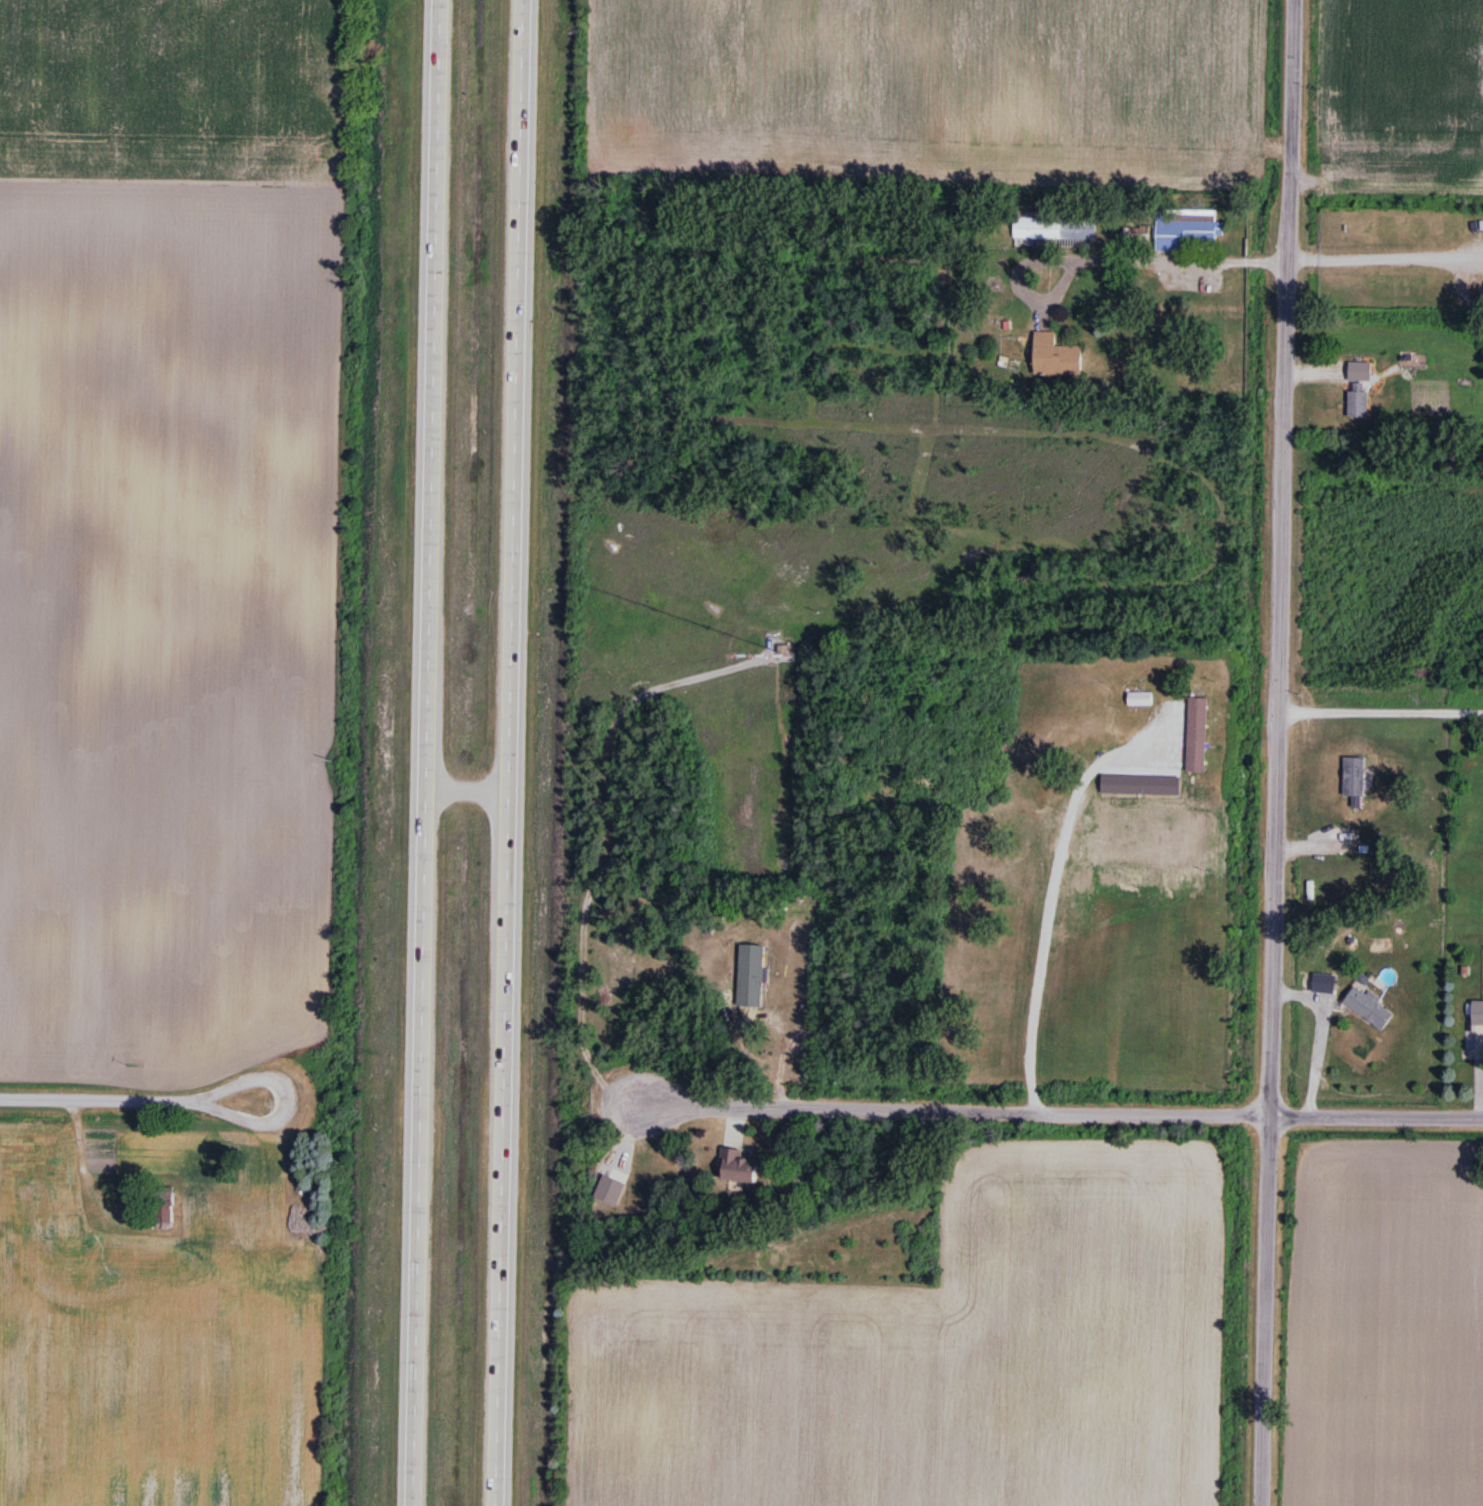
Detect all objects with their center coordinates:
building: (1055, 226)
building: (1190, 230)
road: (1384, 251)
road: (1102, 263)
building: (1056, 357)
building: (1358, 373)
building: (1359, 401)
building: (787, 655)
building: (1140, 701)
road: (1379, 705)
building: (1197, 737)
road: (1275, 752)
road: (423, 753)
road: (511, 753)
building: (1354, 779)
road: (467, 788)
building: (751, 976)
building: (1368, 1007)
building: (1477, 1014)
road: (132, 1097)
road: (1059, 1109)
building: (737, 1168)
building: (164, 1205)
building: (64, 1227)

